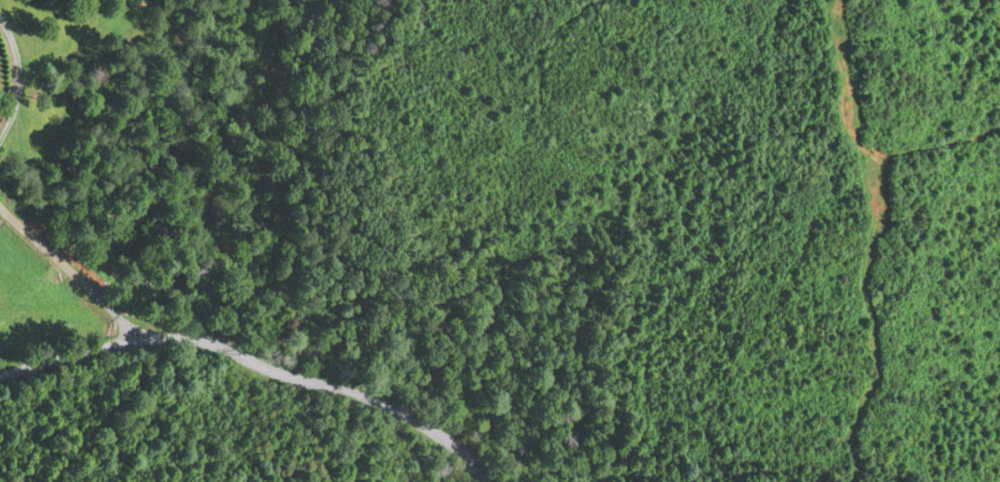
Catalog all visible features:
road: (71, 273)
road: (253, 360)

